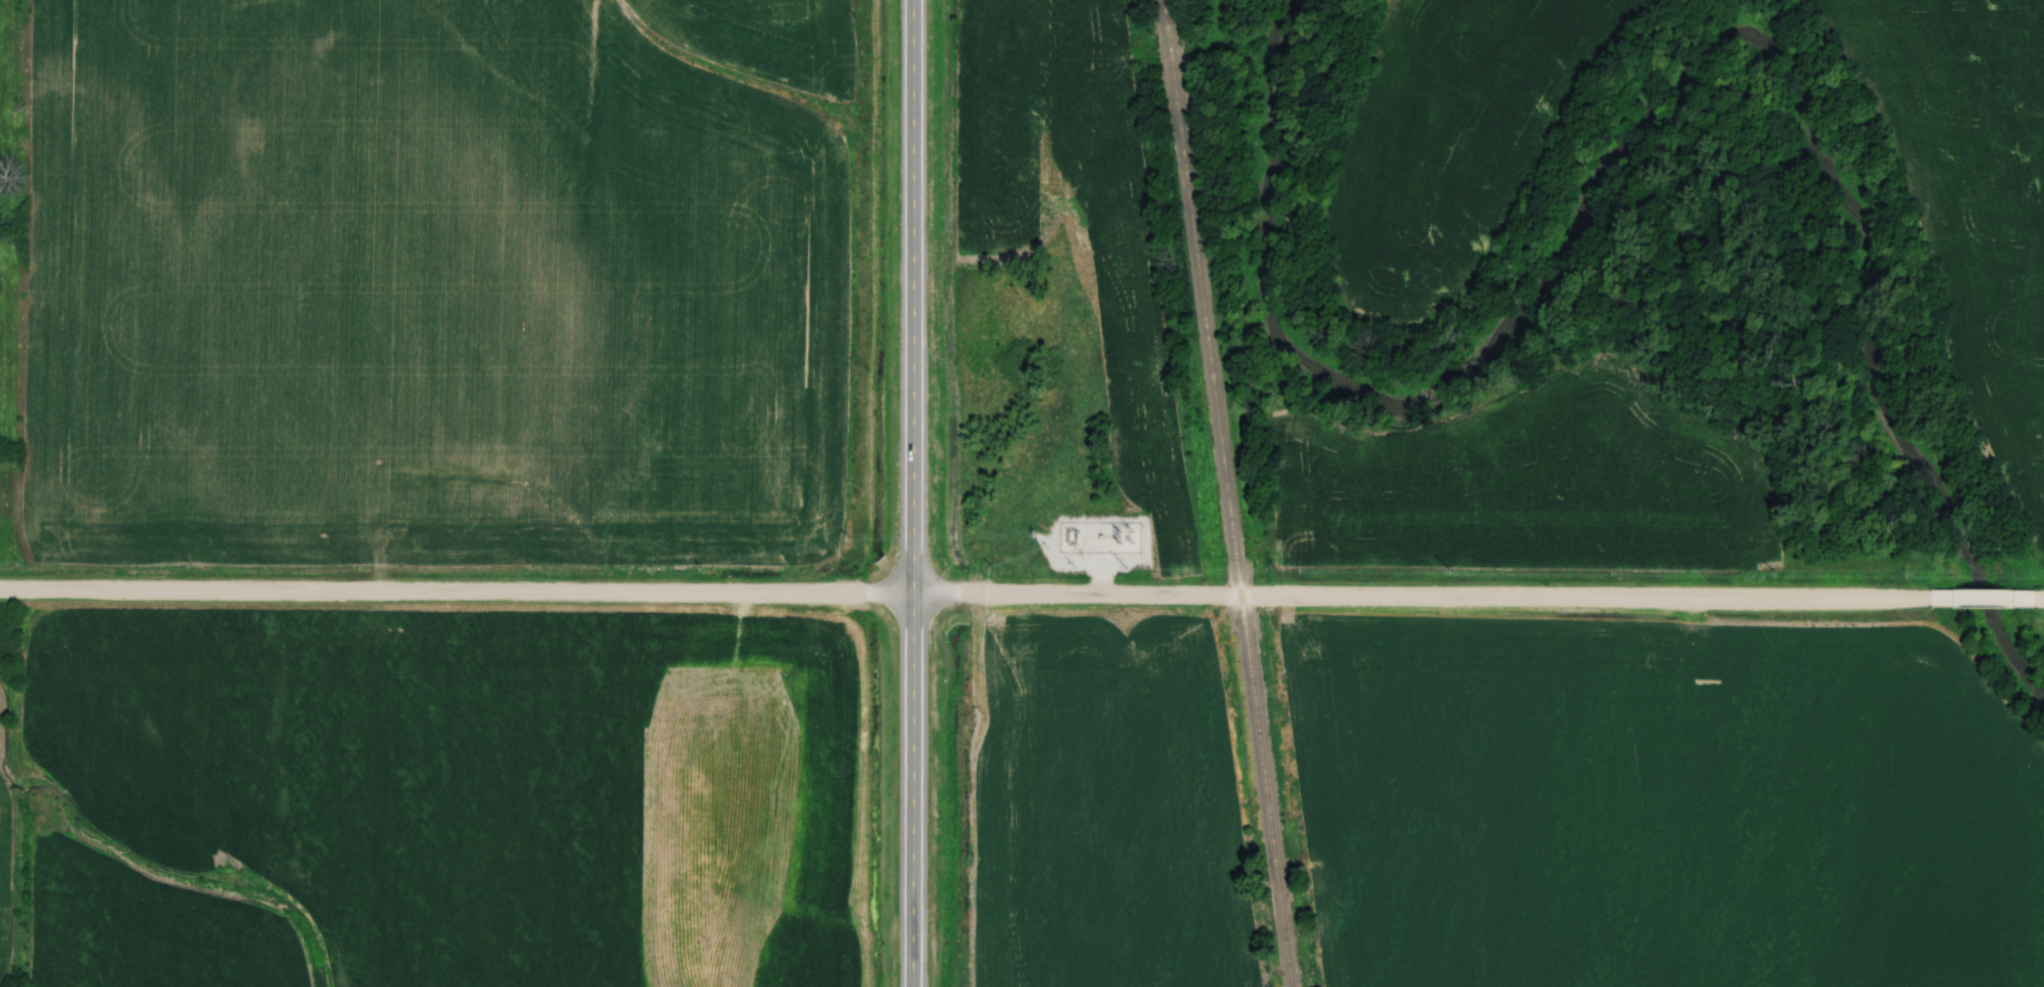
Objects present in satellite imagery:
river: (1669, 96)
road: (914, 493)
railway: (1228, 493)
road: (1975, 594)
road: (2030, 595)
road: (967, 597)

